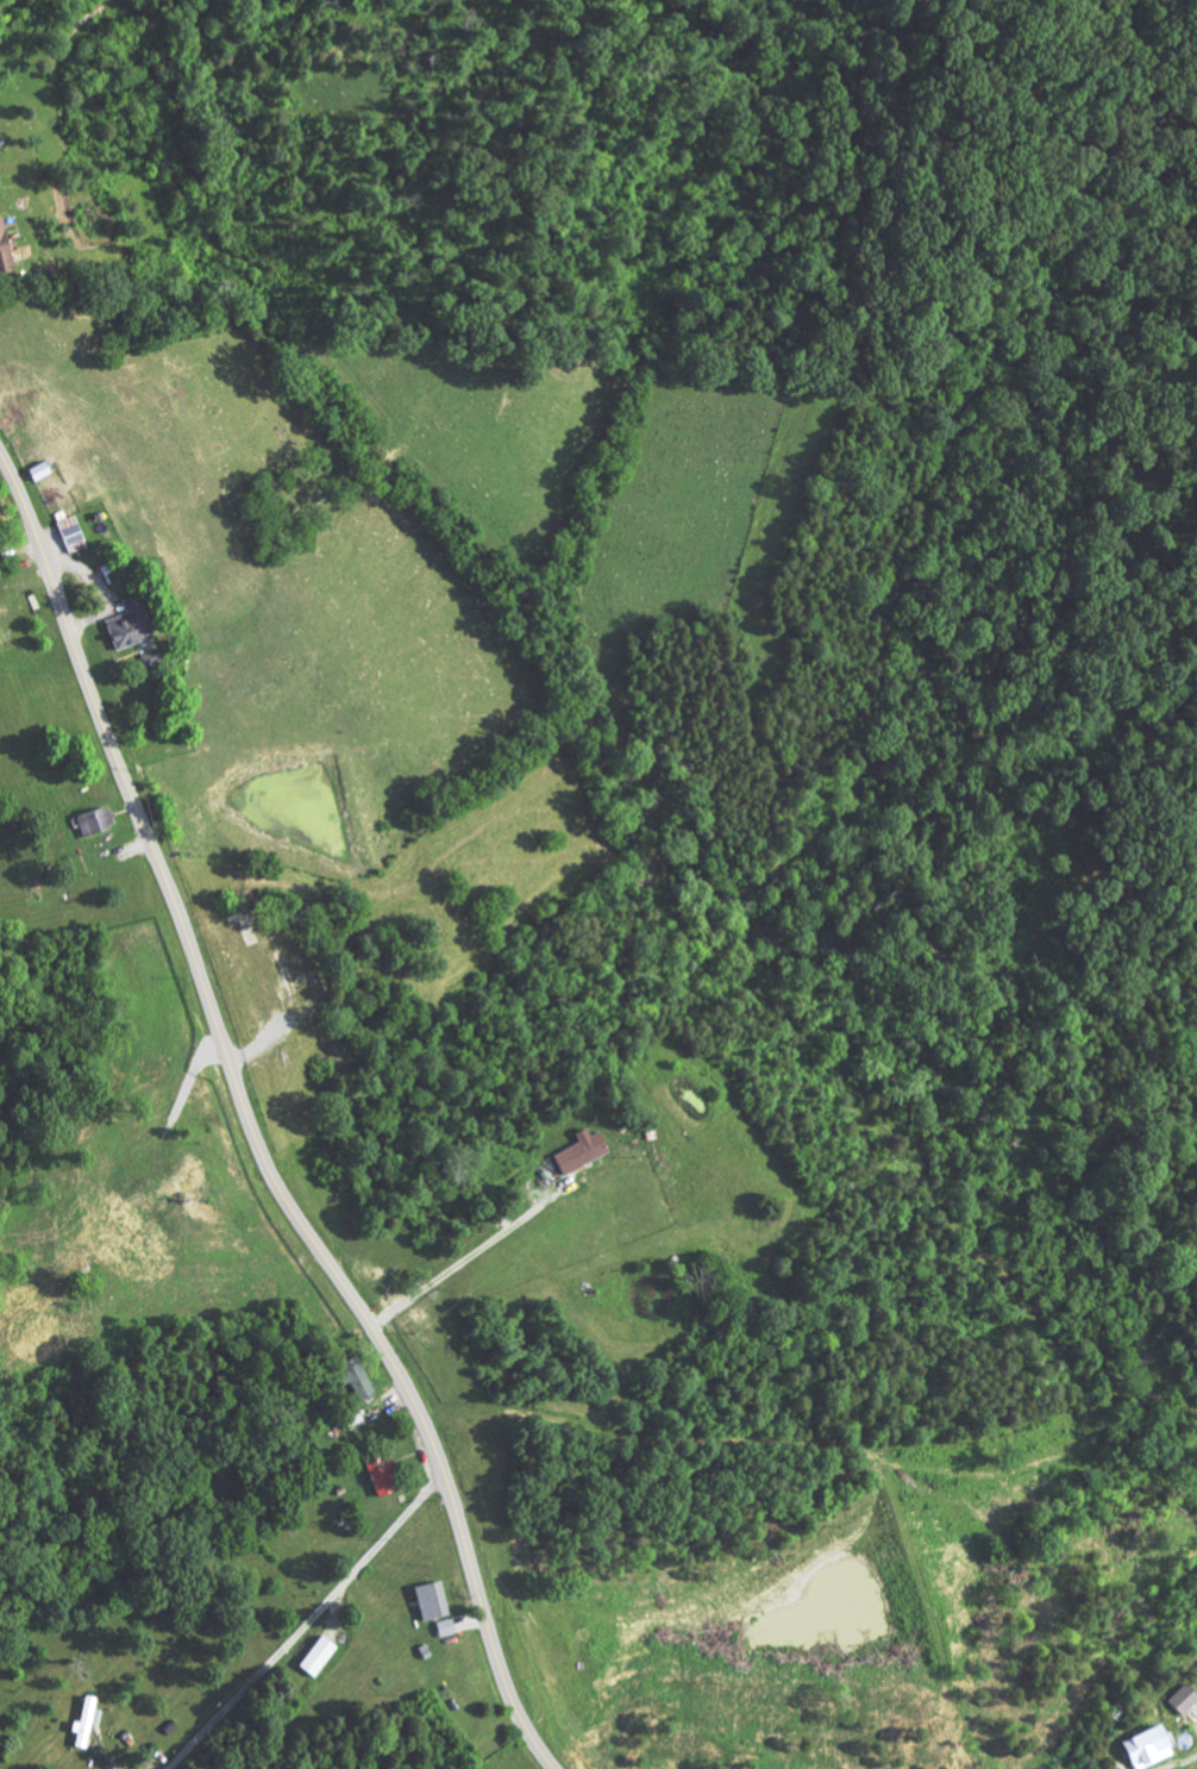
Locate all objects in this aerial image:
building: (46, 227)
building: (180, 605)
building: (14, 611)
road: (251, 1124)
building: (632, 1131)
road: (456, 1265)
building: (407, 1359)
building: (434, 1456)
building: (483, 1581)
building: (496, 1607)
road: (312, 1623)
building: (368, 1637)
building: (1187, 1731)

